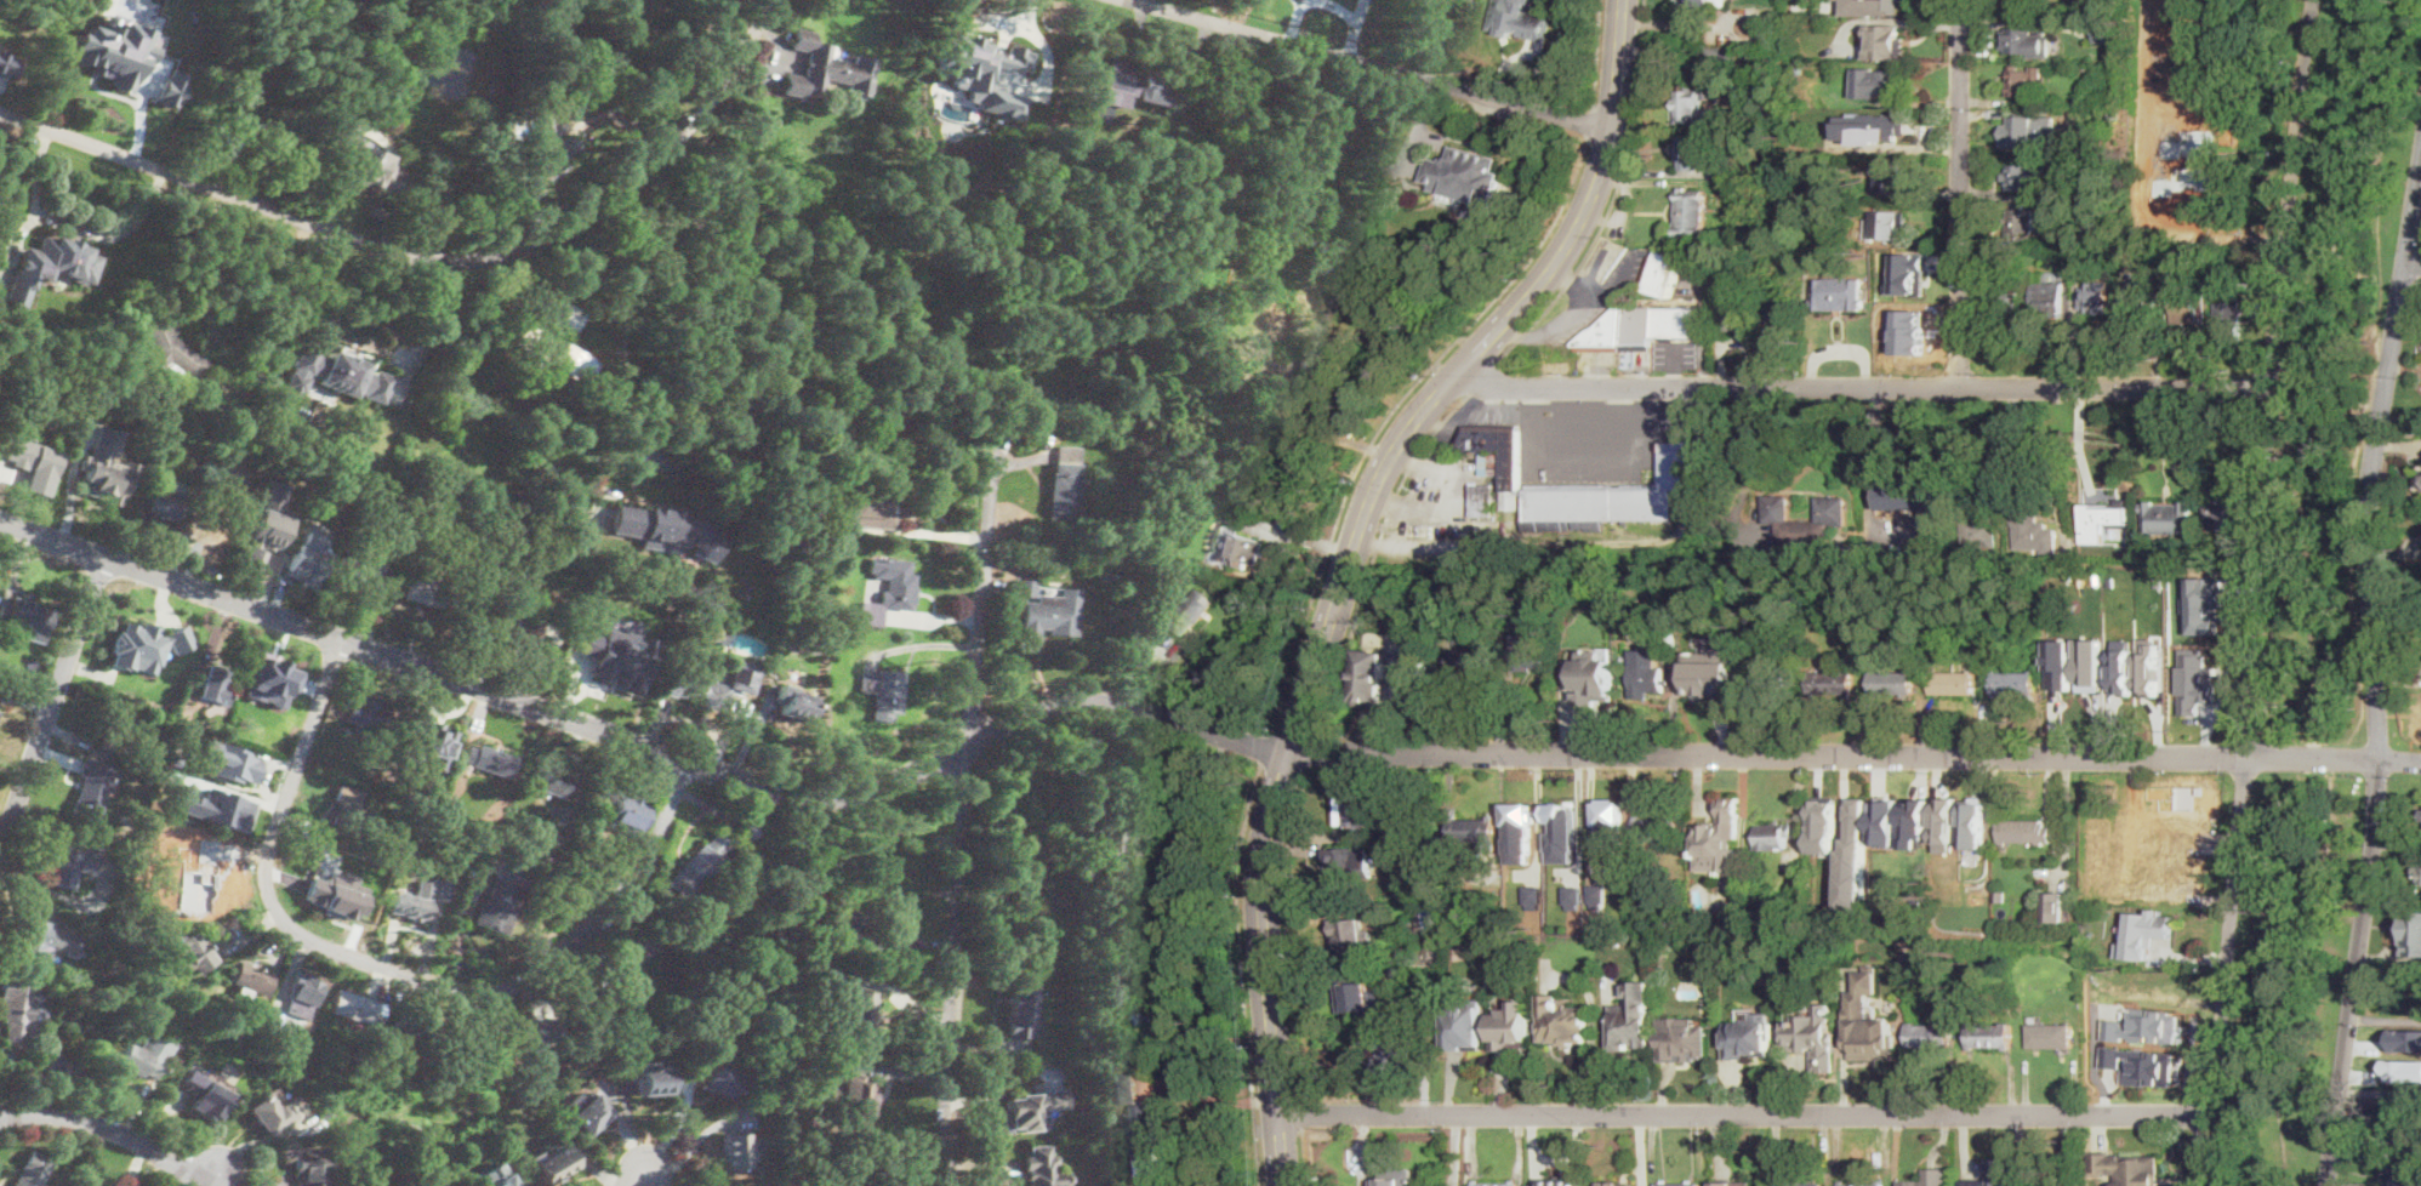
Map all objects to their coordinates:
building: (2232, 0)
building: (1693, 2)
building: (2018, 2)
building: (2170, 2)
building: (1517, 6)
building: (1886, 8)
building: (2072, 8)
road: (719, 28)
building: (2106, 30)
building: (1884, 41)
building: (2018, 41)
building: (2181, 41)
building: (112, 52)
road: (1595, 55)
building: (996, 61)
building: (5, 64)
road: (1371, 64)
building: (1796, 65)
building: (2089, 65)
building: (827, 69)
building: (2022, 80)
building: (1887, 81)
building: (1138, 82)
building: (1053, 84)
building: (2189, 85)
building: (170, 89)
building: (1687, 102)
building: (2115, 115)
building: (2096, 116)
road: (1589, 122)
building: (1889, 131)
building: (2018, 131)
building: (2189, 131)
building: (1338, 139)
building: (548, 153)
building: (1686, 153)
building: (368, 169)
building: (1471, 175)
building: (2188, 175)
building: (1885, 177)
building: (2028, 177)
road: (1959, 193)
road: (1614, 200)
building: (1691, 212)
building: (2182, 217)
building: (2021, 224)
building: (1887, 226)
road: (76, 227)
building: (2095, 229)
building: (1266, 234)
building: (1702, 253)
building: (2062, 256)
road: (429, 258)
building: (2080, 260)
building: (1889, 263)
road: (2414, 263)
building: (50, 264)
building: (1664, 273)
building: (2244, 283)
building: (1838, 291)
building: (1908, 292)
road: (1594, 293)
building: (2001, 295)
building: (2045, 296)
road: (1494, 298)
building: (1736, 298)
building: (2095, 298)
building: (2137, 300)
building: (2189, 307)
building: (1280, 308)
building: (1781, 312)
road: (296, 317)
building: (568, 318)
building: (2227, 320)
road: (270, 321)
road: (623, 326)
building: (1640, 327)
road: (1550, 330)
road: (2346, 348)
building: (549, 352)
building: (173, 355)
park: (2336, 355)
building: (336, 370)
building: (2, 381)
road: (1483, 381)
road: (2307, 383)
road: (1863, 386)
road: (1580, 410)
road: (2012, 416)
road: (1325, 424)
road: (1366, 450)
building: (34, 457)
building: (1497, 457)
building: (224, 462)
building: (2420, 474)
building: (104, 481)
road: (1872, 481)
building: (2081, 481)
building: (1065, 487)
building: (1614, 495)
building: (1918, 495)
road: (1345, 498)
road: (1458, 500)
building: (1485, 500)
building: (813, 503)
building: (166, 504)
building: (878, 504)
building: (2100, 509)
building: (2222, 511)
building: (2167, 518)
building: (270, 519)
building: (411, 519)
building: (226, 520)
building: (1806, 521)
building: (307, 525)
building: (666, 531)
building: (1981, 534)
building: (2033, 535)
building: (2206, 537)
building: (273, 544)
building: (1238, 548)
road: (1331, 548)
building: (1850, 553)
road: (1377, 555)
road: (2258, 555)
building: (252, 557)
road: (1349, 558)
building: (360, 569)
building: (1118, 578)
building: (2056, 585)
building: (1025, 588)
building: (890, 589)
road: (2352, 592)
building: (432, 593)
building: (2061, 599)
building: (2205, 604)
building: (1192, 611)
building: (1050, 615)
building: (25, 618)
building: (513, 626)
building: (719, 633)
road: (1300, 644)
building: (143, 645)
building: (614, 656)
building: (1528, 657)
building: (1625, 657)
building: (1468, 661)
building: (1587, 662)
building: (2060, 665)
building: (2090, 665)
building: (1411, 666)
building: (2123, 666)
building: (2148, 667)
building: (1709, 671)
building: (1771, 674)
road: (2375, 675)
building: (1372, 677)
building: (745, 678)
building: (1648, 679)
building: (2072, 680)
building: (1830, 683)
building: (1892, 683)
building: (1955, 683)
building: (2015, 684)
building: (2134, 684)
building: (2197, 685)
building: (217, 686)
building: (699, 691)
building: (883, 694)
building: (272, 695)
road: (52, 702)
building: (793, 703)
building: (365, 714)
road: (1178, 719)
building: (116, 732)
road: (1297, 732)
road: (1374, 735)
building: (426, 739)
road: (1315, 751)
building: (230, 762)
building: (489, 762)
building: (175, 764)
road: (1170, 772)
building: (552, 781)
building: (218, 788)
building: (92, 791)
building: (218, 808)
road: (964, 808)
building: (348, 809)
building: (1356, 812)
building: (2151, 812)
building: (152, 816)
building: (630, 816)
road: (2066, 820)
building: (1884, 821)
building: (1914, 822)
building: (1946, 823)
building: (1823, 825)
building: (1391, 828)
building: (1607, 828)
building: (747, 829)
building: (1656, 829)
building: (1516, 831)
building: (1560, 831)
building: (1901, 831)
building: (2026, 831)
building: (1475, 832)
building: (1970, 832)
building: (1773, 836)
building: (1718, 837)
building: (1110, 844)
building: (609, 859)
building: (195, 861)
building: (1853, 861)
building: (68, 865)
building: (1346, 865)
building: (697, 867)
building: (1139, 868)
building: (2419, 874)
building: (1095, 880)
building: (469, 889)
building: (335, 894)
building: (1532, 896)
building: (2000, 896)
building: (1572, 897)
building: (500, 903)
building: (1368, 906)
building: (2056, 907)
building: (416, 908)
building: (460, 914)
building: (1499, 925)
road: (1287, 931)
building: (2143, 931)
building: (859, 933)
building: (2411, 933)
building: (573, 940)
building: (1354, 940)
building: (44, 941)
building: (187, 948)
building: (454, 960)
road: (392, 971)
building: (615, 974)
park: (2291, 976)
building: (1117, 977)
building: (252, 981)
building: (793, 981)
building: (302, 994)
building: (1356, 996)
building: (2413, 996)
building: (353, 1007)
building: (1020, 1011)
building: (1630, 1017)
building: (860, 1019)
building: (27, 1020)
building: (1868, 1021)
building: (1462, 1024)
building: (420, 1026)
building: (1508, 1026)
building: (2144, 1026)
building: (1806, 1031)
building: (1420, 1032)
building: (1748, 1033)
building: (97, 1034)
building: (1565, 1034)
building: (1990, 1034)
building: (1930, 1036)
building: (2051, 1036)
building: (522, 1038)
building: (1680, 1038)
building: (2404, 1039)
road: (1605, 1049)
building: (1390, 1053)
building: (142, 1057)
building: (2410, 1061)
building: (2141, 1065)
building: (720, 1080)
road: (1502, 1080)
building: (656, 1084)
building: (1126, 1087)
building: (200, 1095)
building: (851, 1096)
road: (1213, 1096)
building: (1030, 1111)
building: (267, 1113)
road: (1744, 1113)
building: (587, 1114)
road: (1300, 1114)
building: (2408, 1114)
building: (1115, 1118)
road: (113, 1129)
building: (1151, 1140)
road: (2209, 1148)
building: (733, 1152)
road: (1304, 1157)
building: (309, 1167)
building: (2127, 1167)
building: (554, 1168)
building: (1042, 1168)
building: (32, 1170)
building: (2403, 1170)
building: (499, 1178)
building: (1391, 1178)
road: (229, 1179)
road: (634, 1179)
building: (867, 1179)
building: (1496, 1182)
building: (1741, 1182)
building: (1557, 1184)
building: (1618, 1184)
building: (1680, 1184)
building: (1800, 1184)
building: (1861, 1184)
building: (1921, 1184)
building: (2030, 1184)
building: (86, 1185)
building: (1983, 1185)
building: (2040, 1185)

